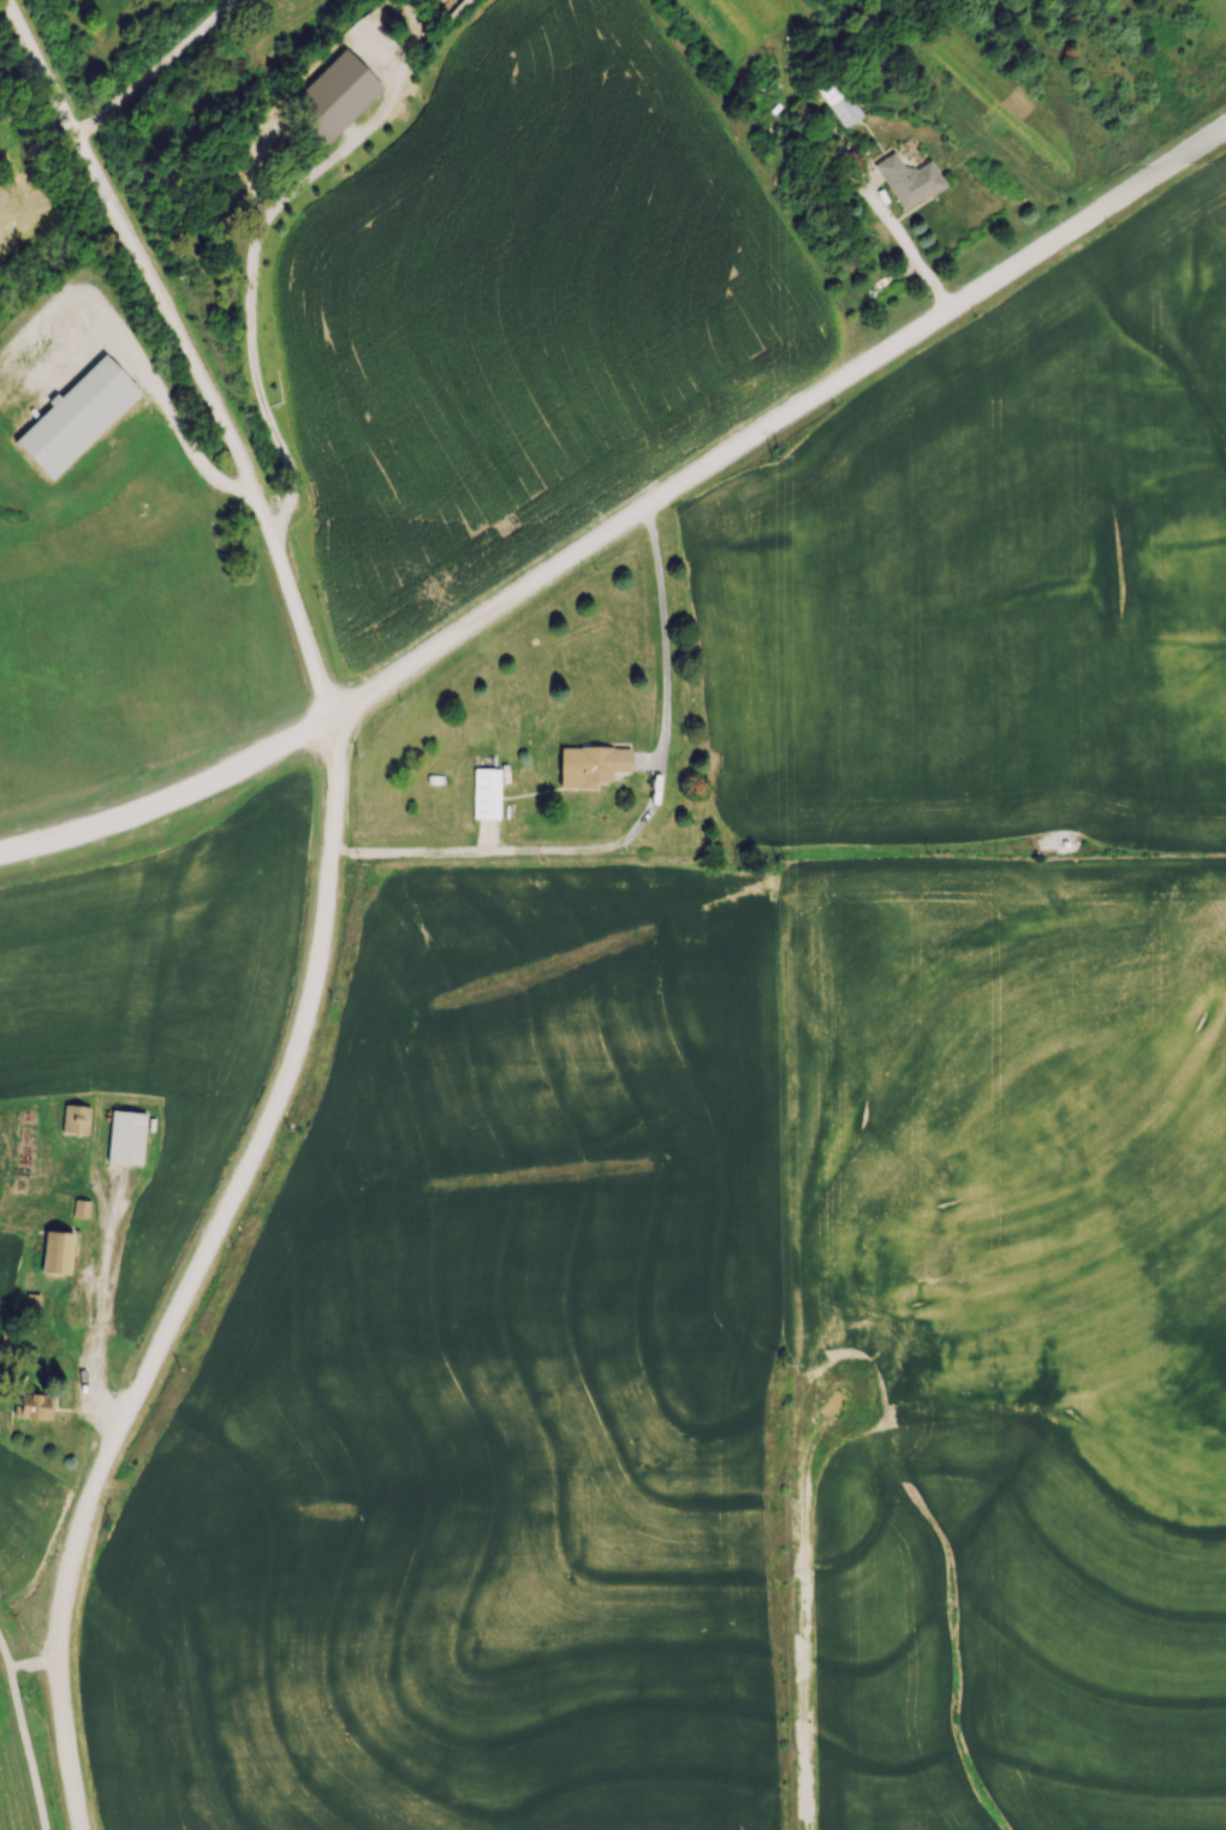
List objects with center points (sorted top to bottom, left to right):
power tower: (779, 64)
road: (17, 65)
road: (159, 70)
building: (335, 95)
building: (839, 102)
building: (907, 179)
road: (18, 195)
road: (257, 228)
road: (904, 237)
crop: (529, 314)
crop: (7, 401)
building: (75, 419)
power tower: (784, 455)
road: (195, 469)
road: (627, 520)
crop: (993, 568)
crop: (111, 649)
building: (590, 764)
building: (486, 791)
road: (644, 825)
building: (1063, 844)
road: (822, 850)
power tower: (784, 860)
road: (327, 906)
crop: (156, 996)
building: (75, 1119)
building: (125, 1137)
building: (81, 1208)
building: (55, 1252)
crop: (6, 1271)
road: (99, 1307)
power tower: (792, 1364)
crop: (715, 1375)
building: (34, 1406)
crop: (28, 1516)
road: (35, 1663)
road: (25, 1733)
road: (814, 1772)

